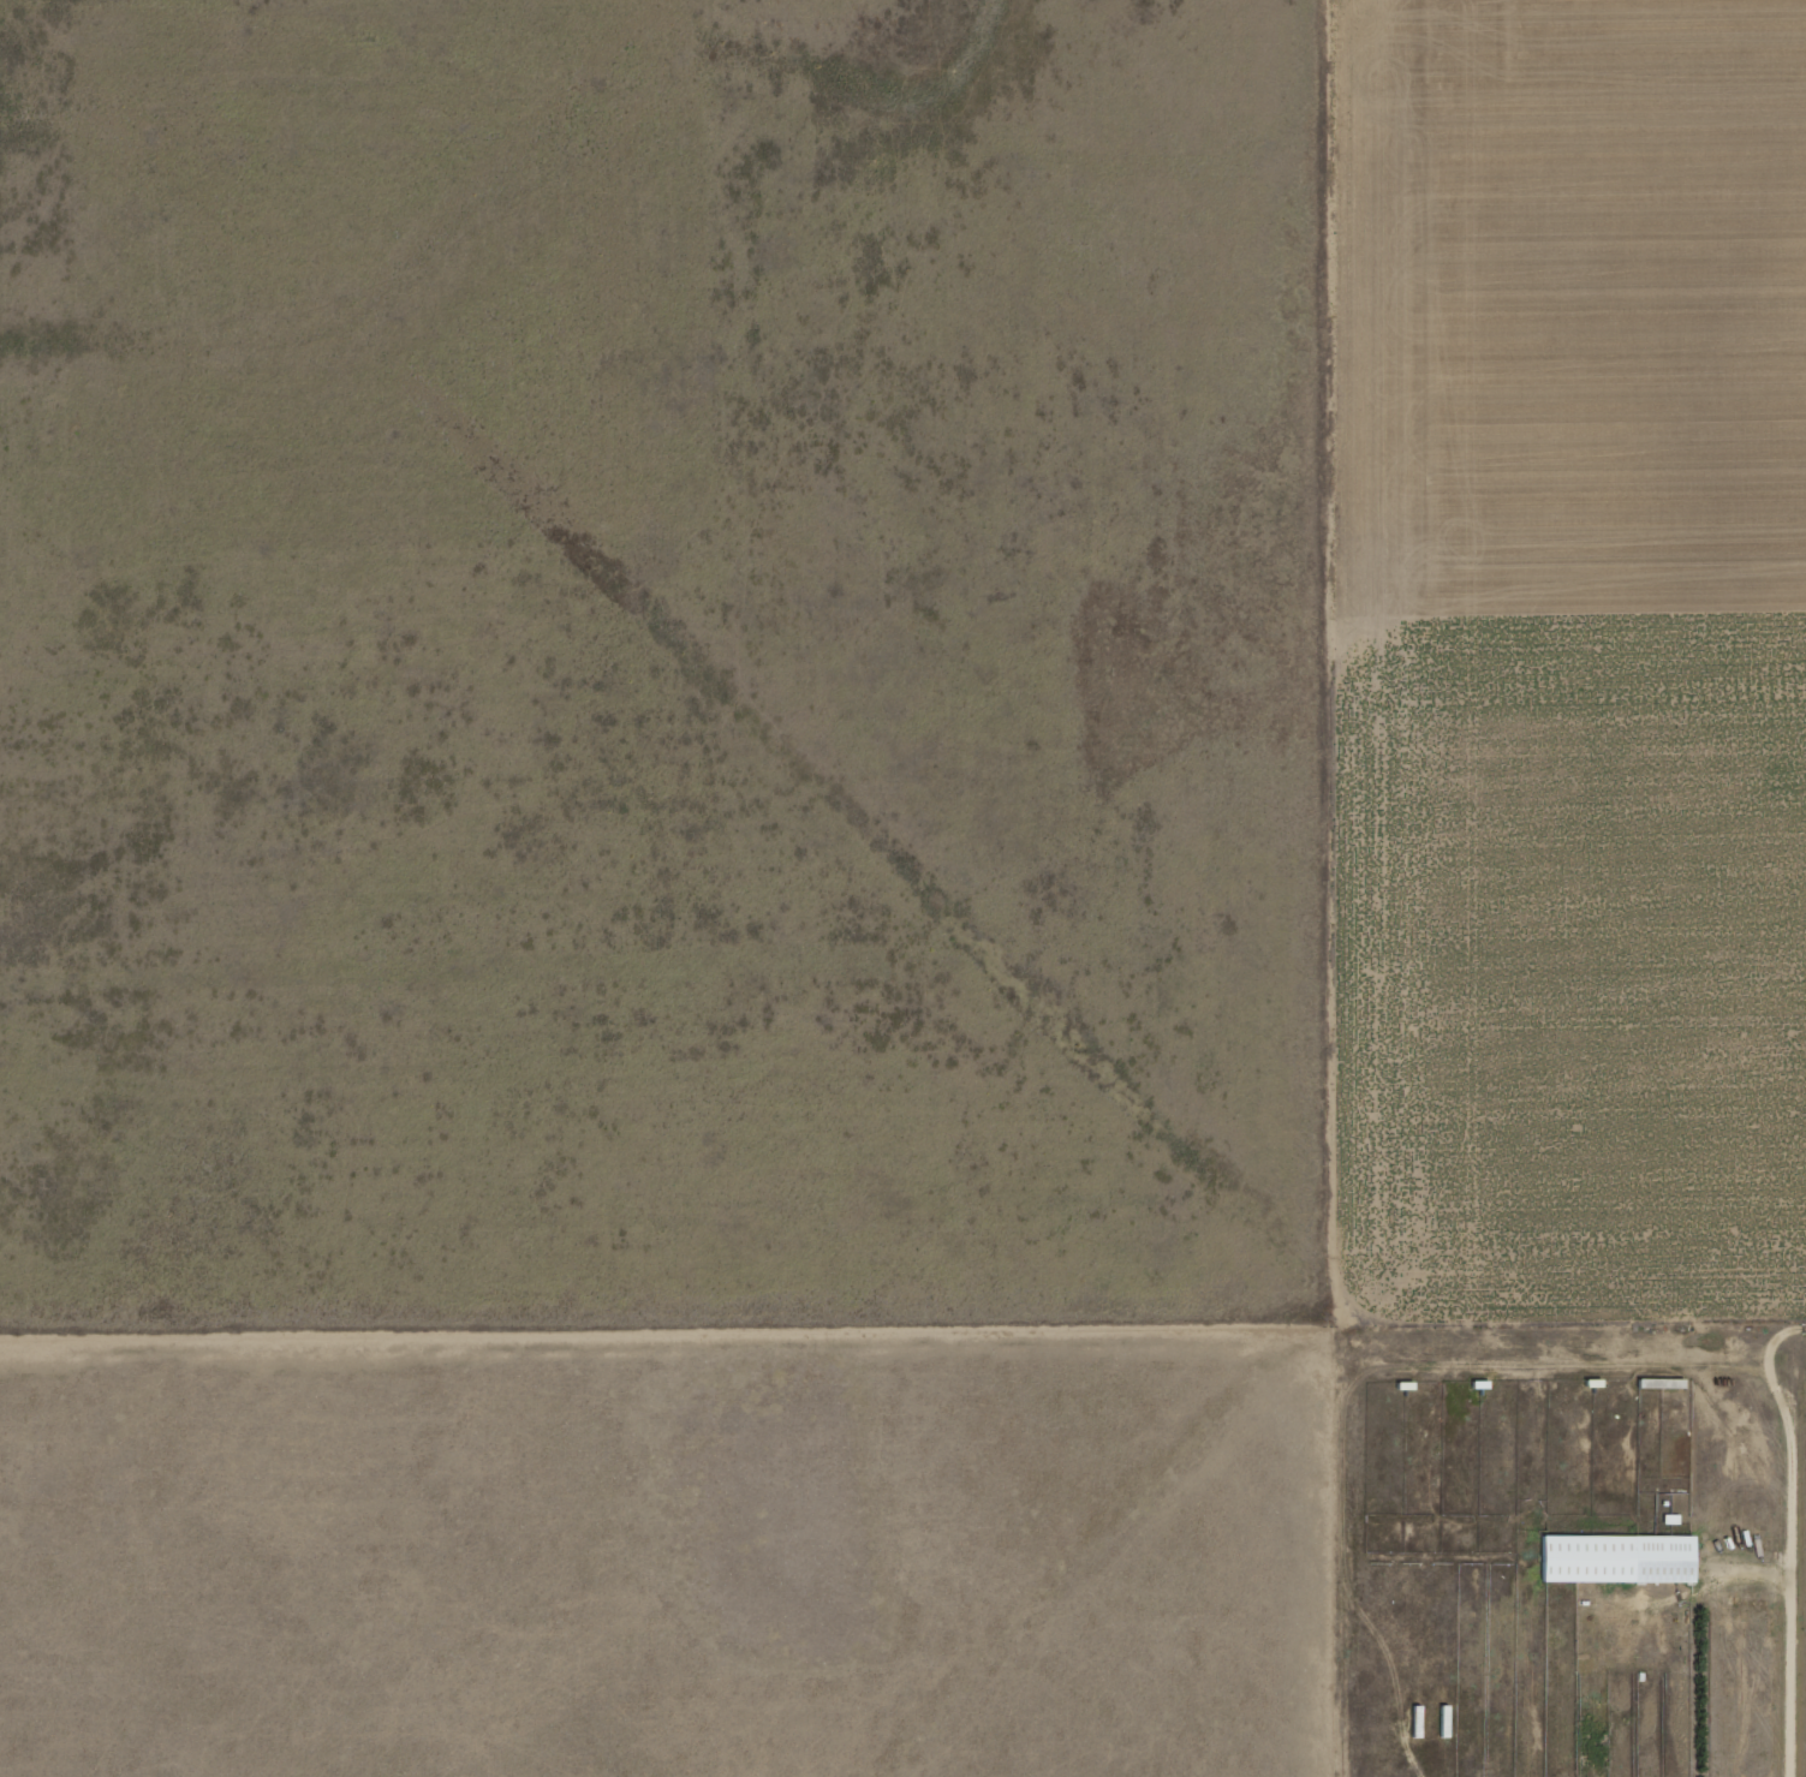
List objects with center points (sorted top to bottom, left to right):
building: (1663, 1383)
building: (1621, 1558)
building: (1446, 1721)

